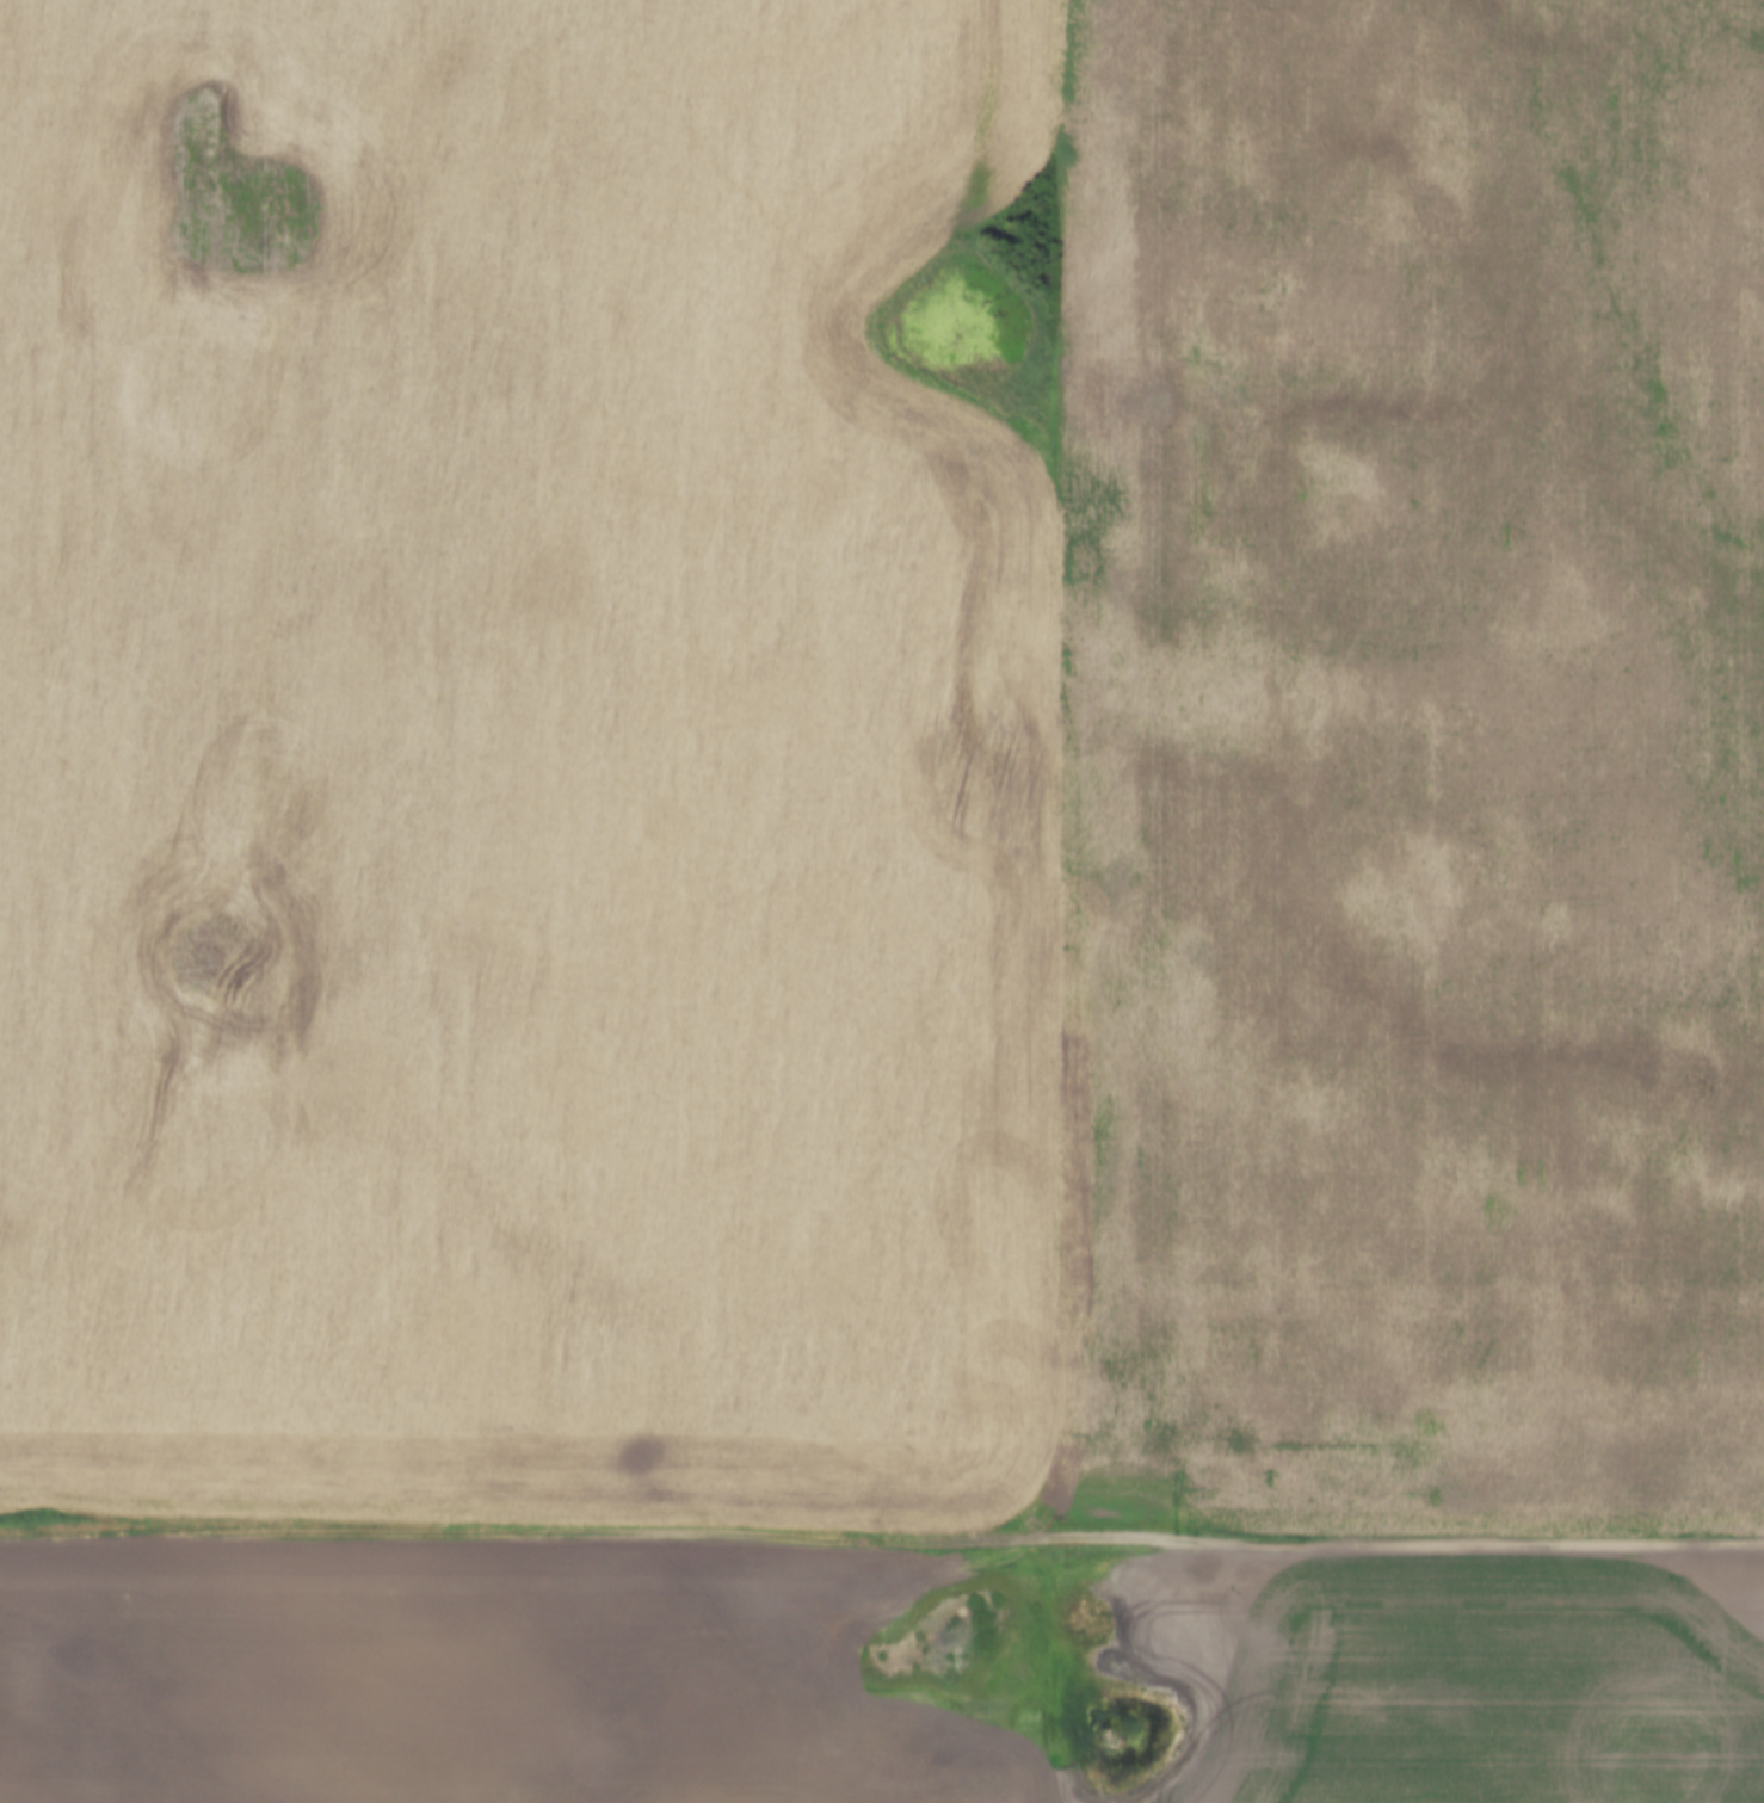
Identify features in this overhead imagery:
road: (882, 1535)

